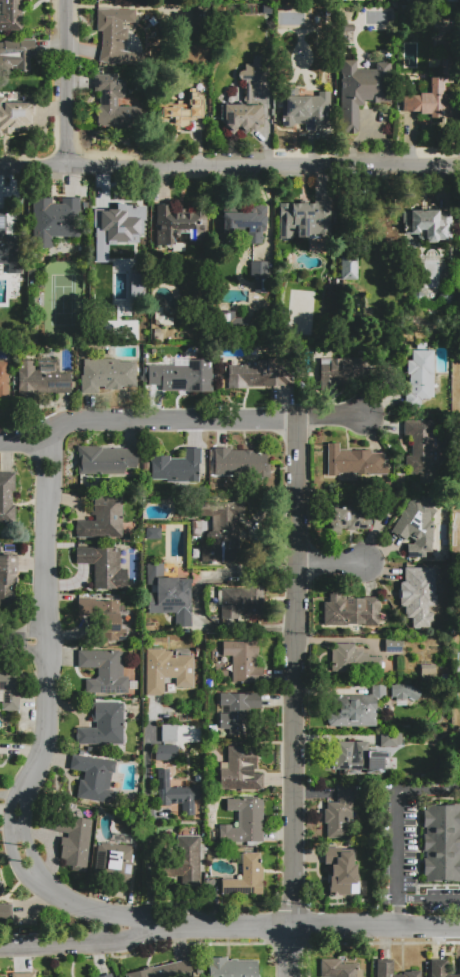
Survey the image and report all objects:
building: (406, 9)
building: (10, 15)
building: (115, 40)
building: (16, 54)
road: (64, 83)
building: (362, 89)
building: (433, 95)
building: (113, 103)
building: (181, 109)
building: (306, 109)
building: (15, 115)
building: (241, 117)
road: (230, 163)
building: (54, 219)
building: (305, 219)
building: (179, 224)
building: (245, 225)
building: (428, 225)
building: (104, 240)
building: (9, 247)
building: (349, 268)
building: (259, 275)
building: (135, 286)
building: (231, 320)
building: (157, 336)
building: (342, 371)
building: (106, 374)
building: (257, 374)
building: (421, 375)
building: (181, 376)
building: (42, 377)
building: (4, 380)
road: (330, 417)
road: (144, 419)
building: (421, 447)
building: (105, 460)
building: (353, 462)
building: (240, 463)
building: (146, 466)
building: (176, 467)
building: (6, 498)
building: (102, 518)
building: (347, 518)
building: (416, 526)
building: (222, 532)
road: (334, 564)
building: (103, 566)
building: (6, 578)
building: (168, 595)
building: (422, 601)
building: (241, 602)
building: (350, 610)
building: (102, 616)
road: (214, 628)
road: (24, 640)
building: (393, 646)
building: (353, 660)
building: (244, 661)
building: (167, 670)
building: (104, 671)
building: (9, 690)
building: (403, 691)
road: (294, 697)
building: (355, 708)
building: (237, 712)
building: (103, 725)
road: (44, 726)
building: (169, 733)
building: (390, 739)
building: (166, 753)
building: (358, 758)
building: (241, 770)
building: (95, 777)
road: (431, 790)
road: (9, 795)
building: (178, 796)
building: (339, 812)
building: (244, 821)
road: (147, 828)
building: (76, 842)
building: (442, 842)
road: (395, 858)
building: (115, 860)
building: (187, 861)
building: (340, 869)
building: (246, 877)
road: (427, 897)
building: (6, 913)
road: (304, 925)
road: (76, 945)
building: (385, 965)
building: (232, 967)
building: (441, 968)
building: (338, 969)
building: (164, 970)
building: (24, 975)
building: (106, 976)

